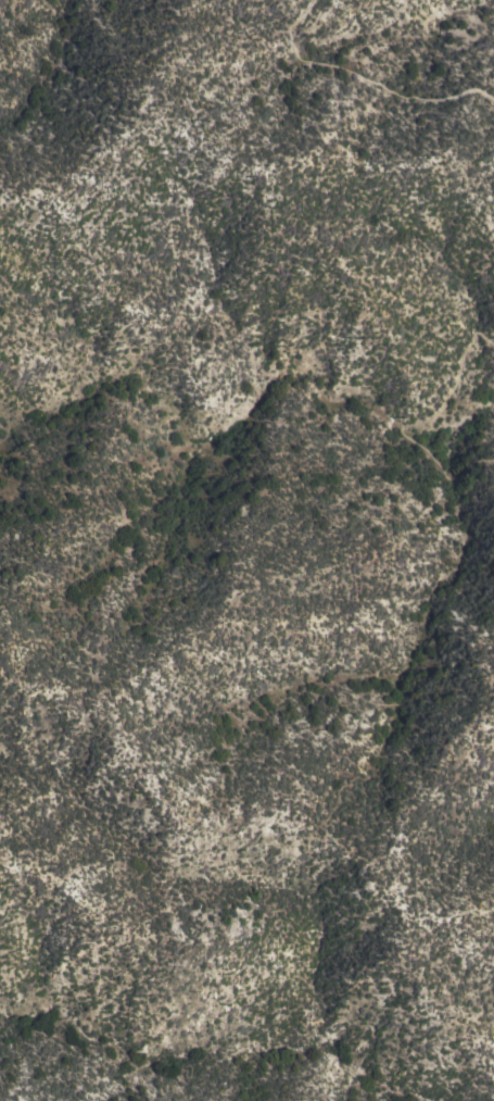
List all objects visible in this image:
road: (365, 74)
road: (409, 418)

